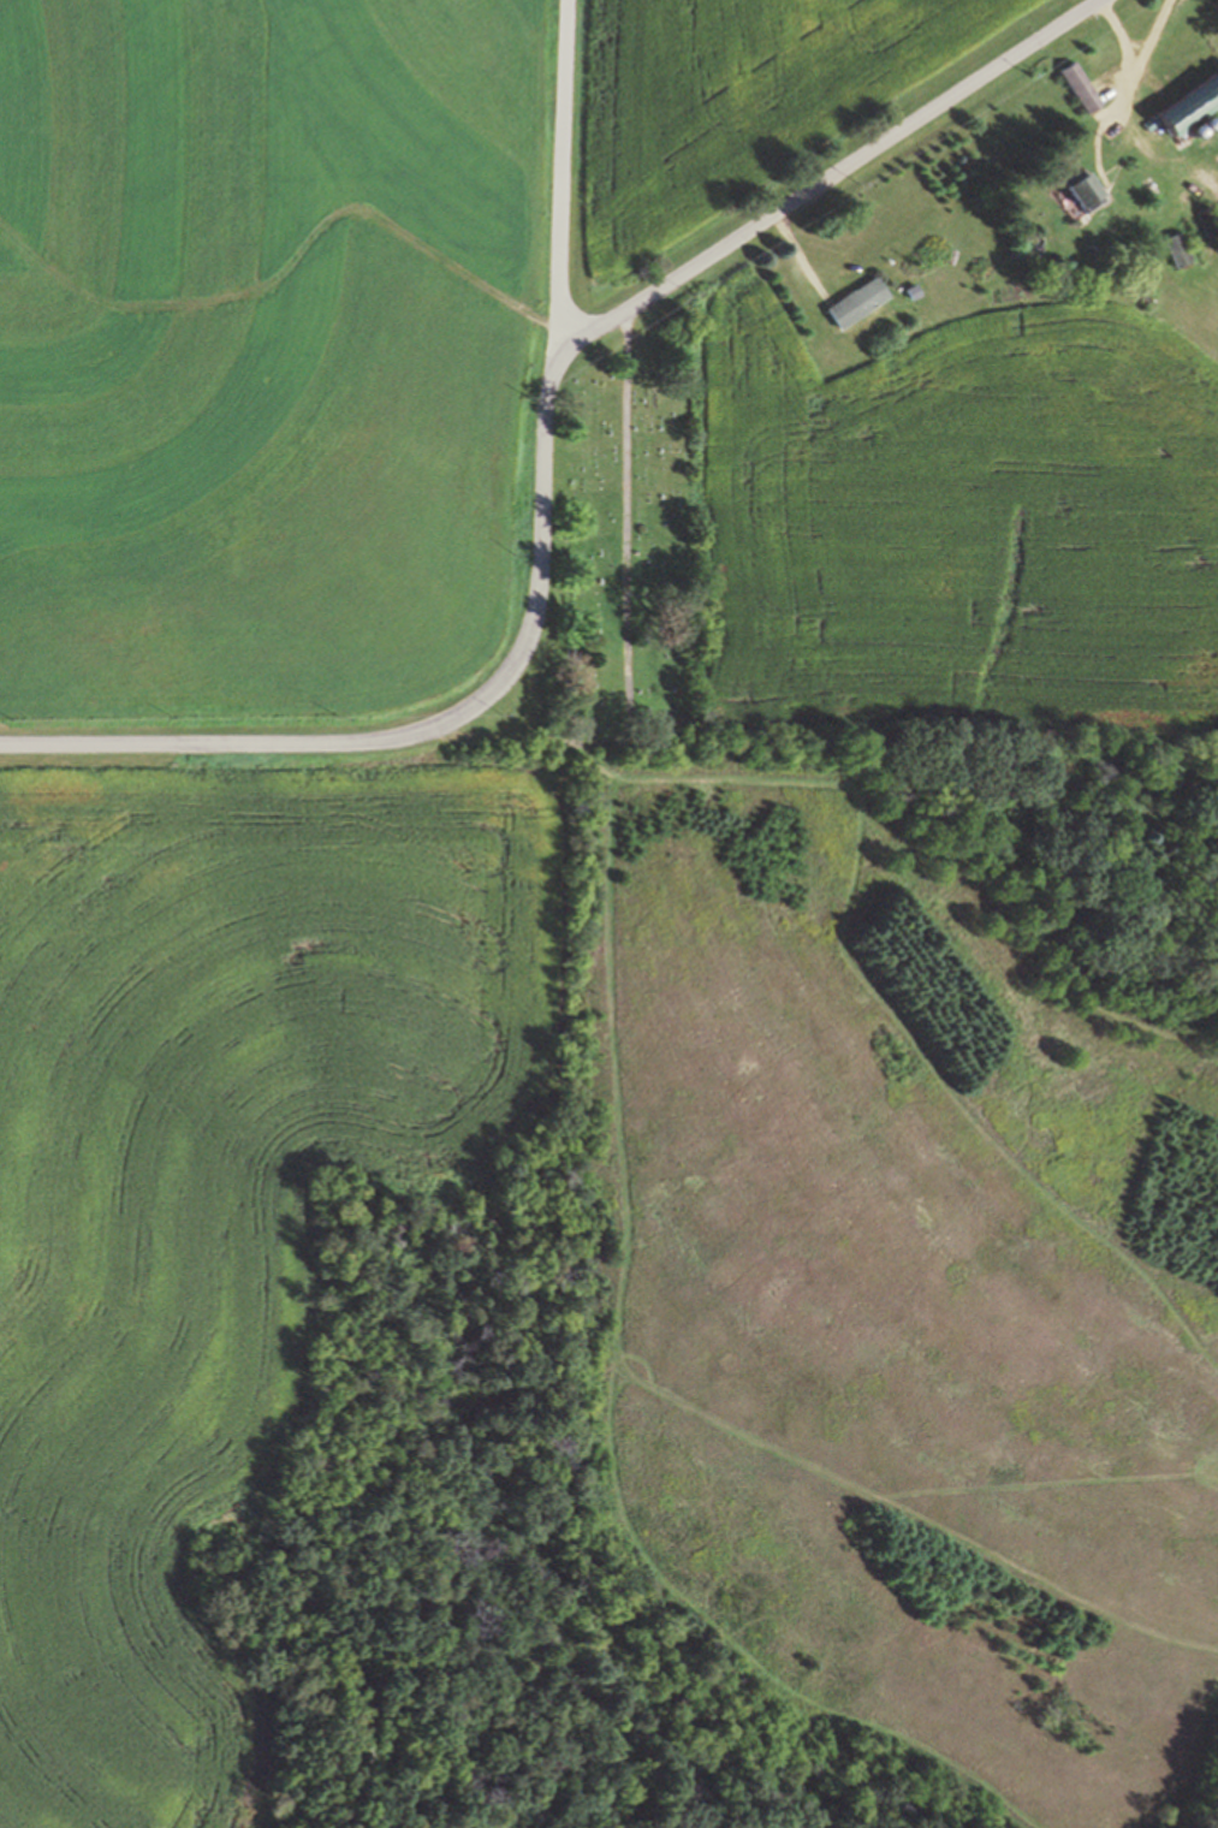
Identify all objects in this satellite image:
road: (1130, 60)
building: (1077, 87)
building: (1186, 105)
road: (560, 173)
building: (1081, 189)
building: (1214, 208)
building: (1206, 220)
building: (1176, 247)
building: (903, 293)
building: (855, 298)
road: (545, 455)
road: (625, 509)
park: (612, 565)

